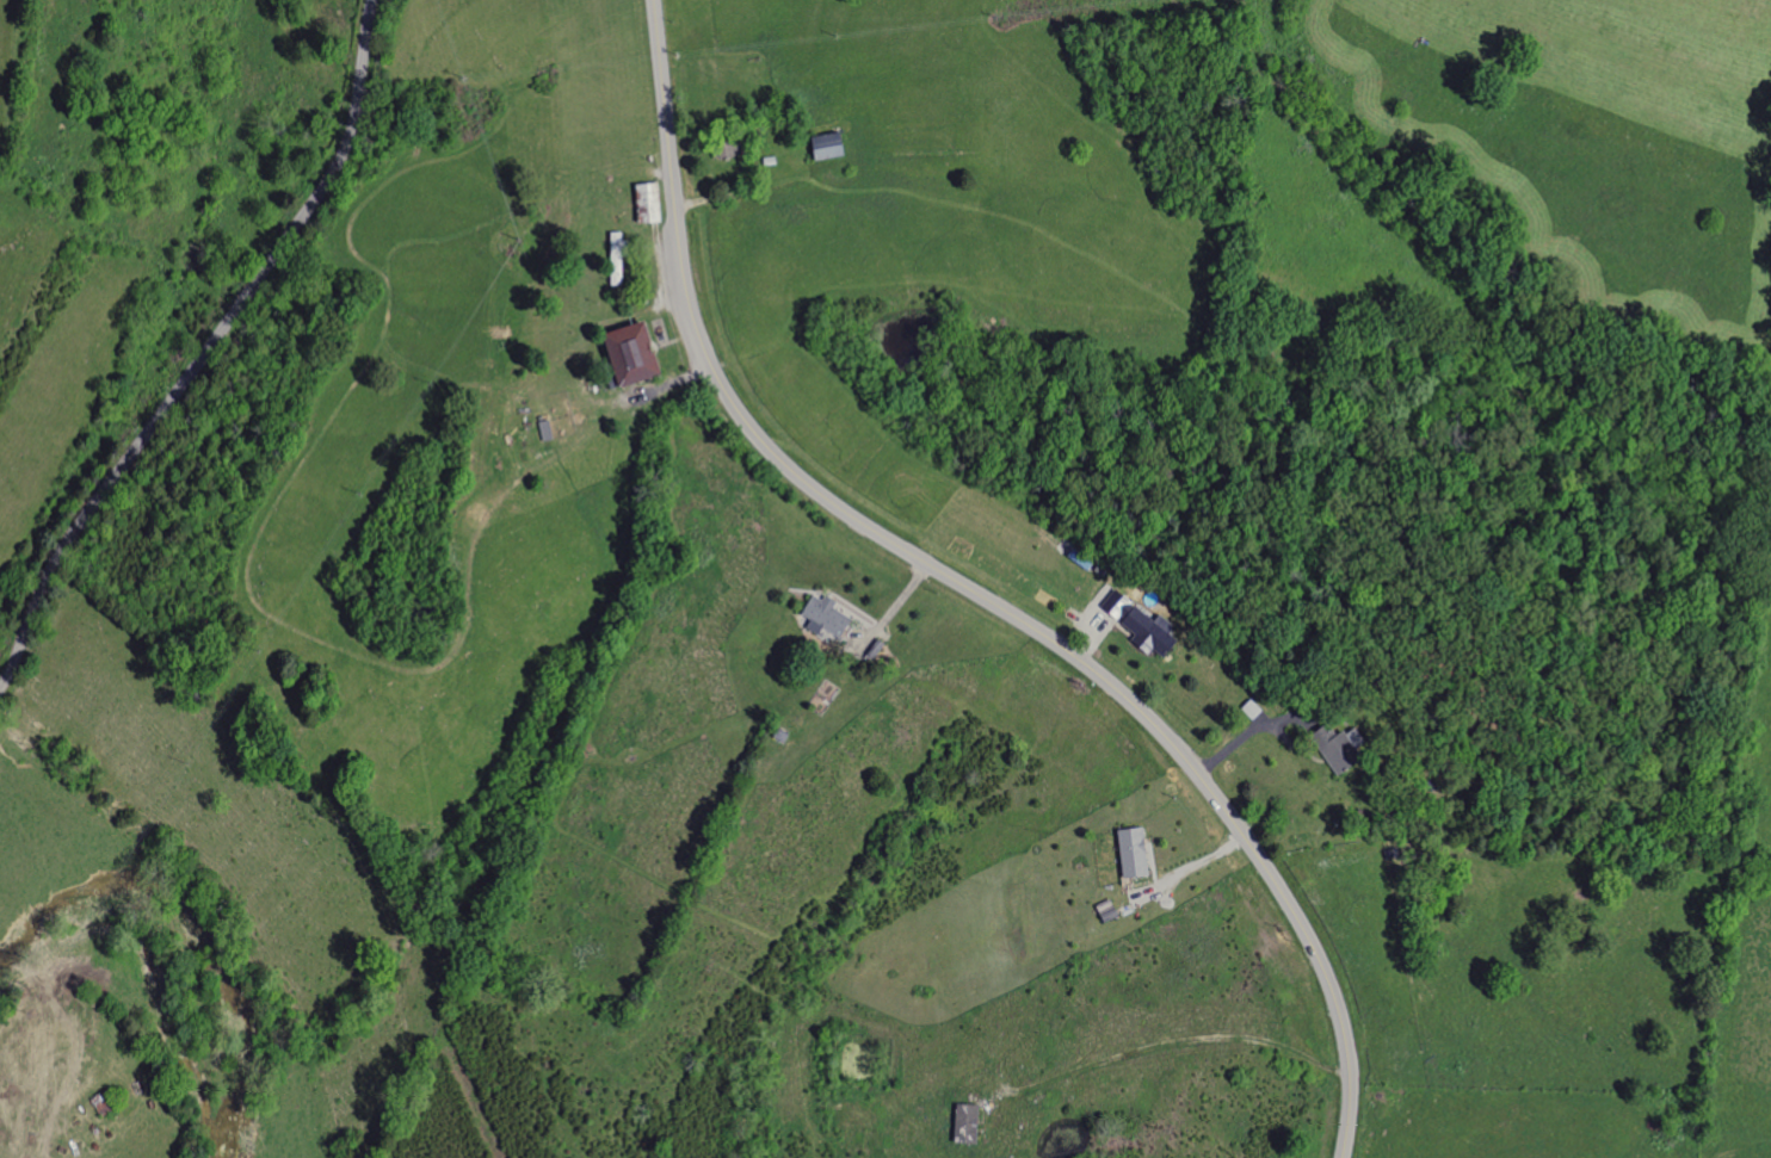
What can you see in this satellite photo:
building: (822, 145)
building: (652, 203)
building: (622, 244)
road: (205, 348)
building: (641, 353)
road: (969, 590)
building: (821, 615)
building: (1140, 626)
building: (1247, 708)
building: (1329, 753)
building: (1127, 852)

